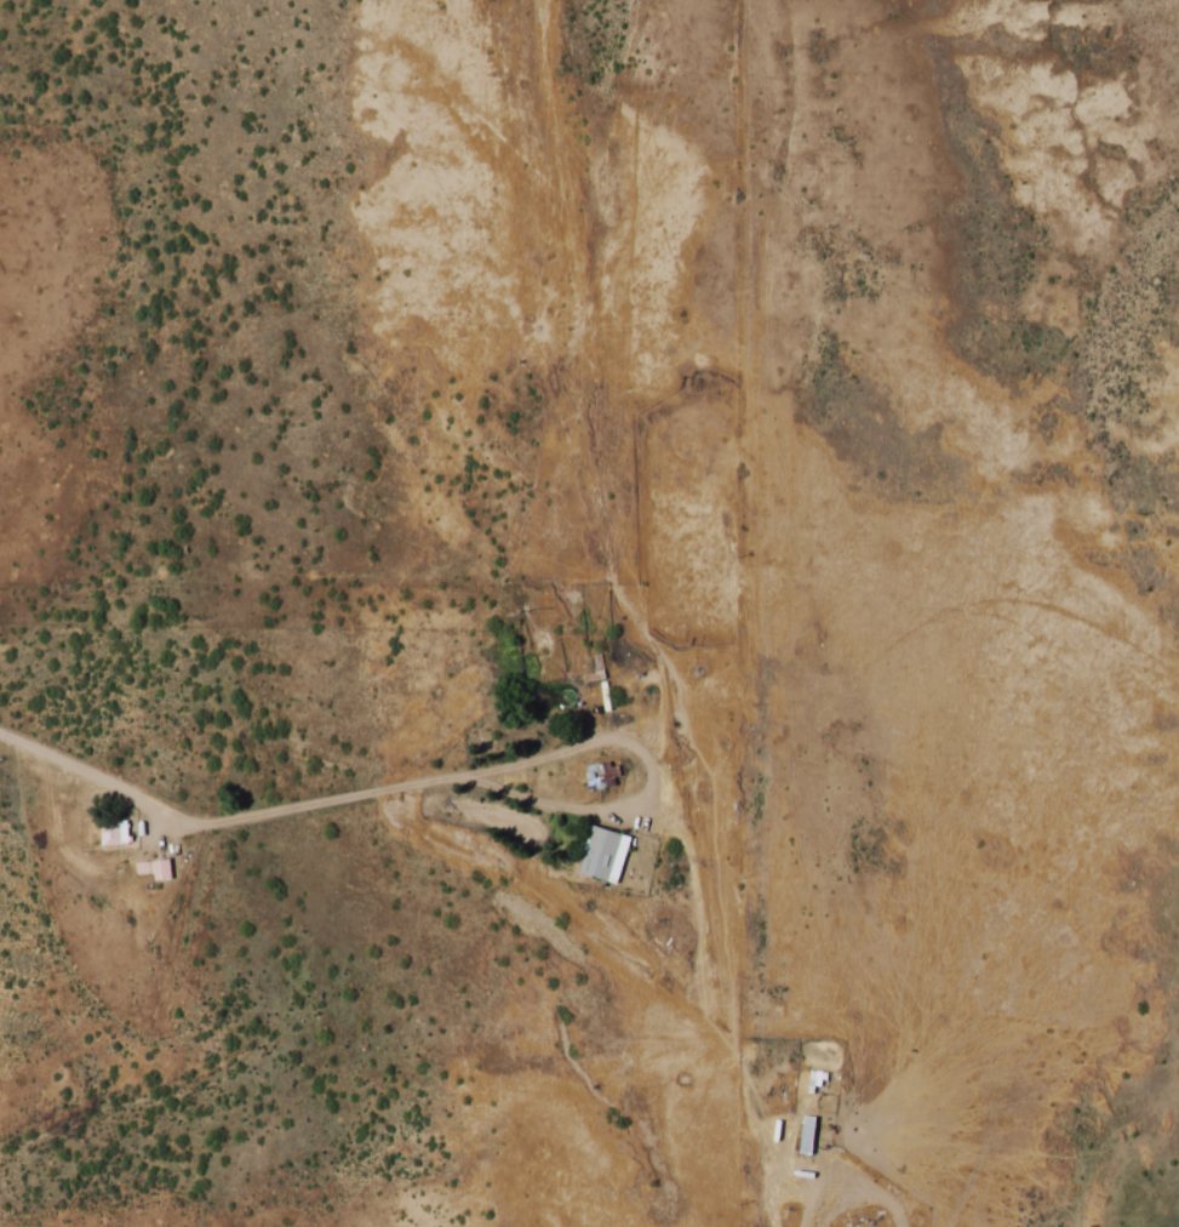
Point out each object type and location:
road: (641, 763)
building: (601, 769)
road: (218, 814)
building: (113, 826)
building: (602, 846)
building: (154, 861)
building: (807, 1125)
building: (851, 1223)

